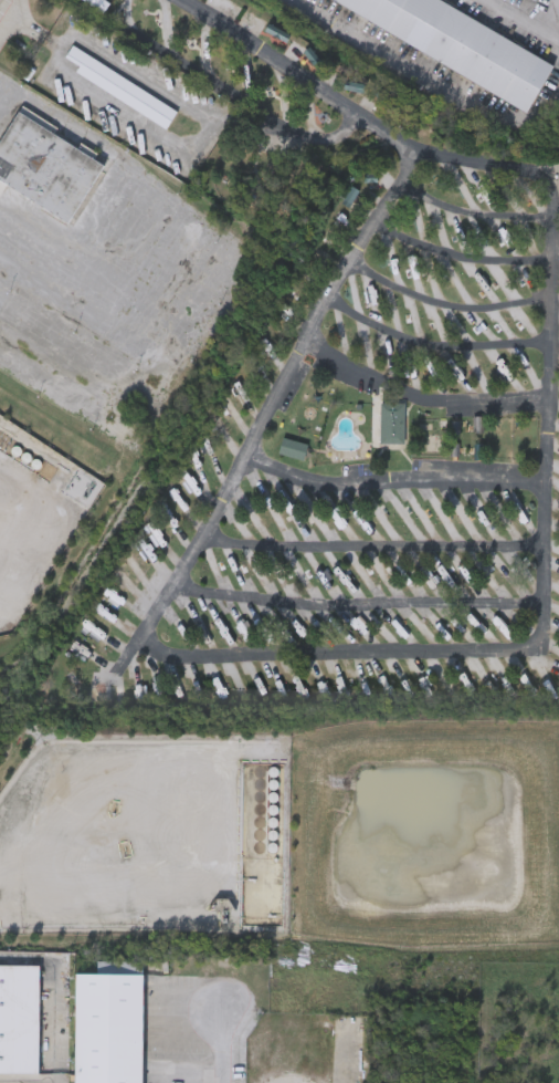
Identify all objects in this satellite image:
building: (531, 0)
building: (538, 0)
building: (0, 1)
building: (98, 6)
road: (11, 17)
road: (550, 19)
road: (523, 21)
road: (75, 38)
building: (460, 44)
road: (303, 73)
road: (424, 81)
building: (120, 87)
road: (7, 98)
road: (245, 100)
building: (44, 165)
road: (492, 166)
road: (474, 214)
road: (458, 254)
road: (447, 302)
road: (118, 343)
road: (434, 344)
road: (420, 394)
building: (394, 424)
road: (392, 476)
road: (370, 545)
road: (355, 602)
road: (264, 657)
building: (19, 1018)
building: (107, 1024)
road: (218, 1049)

